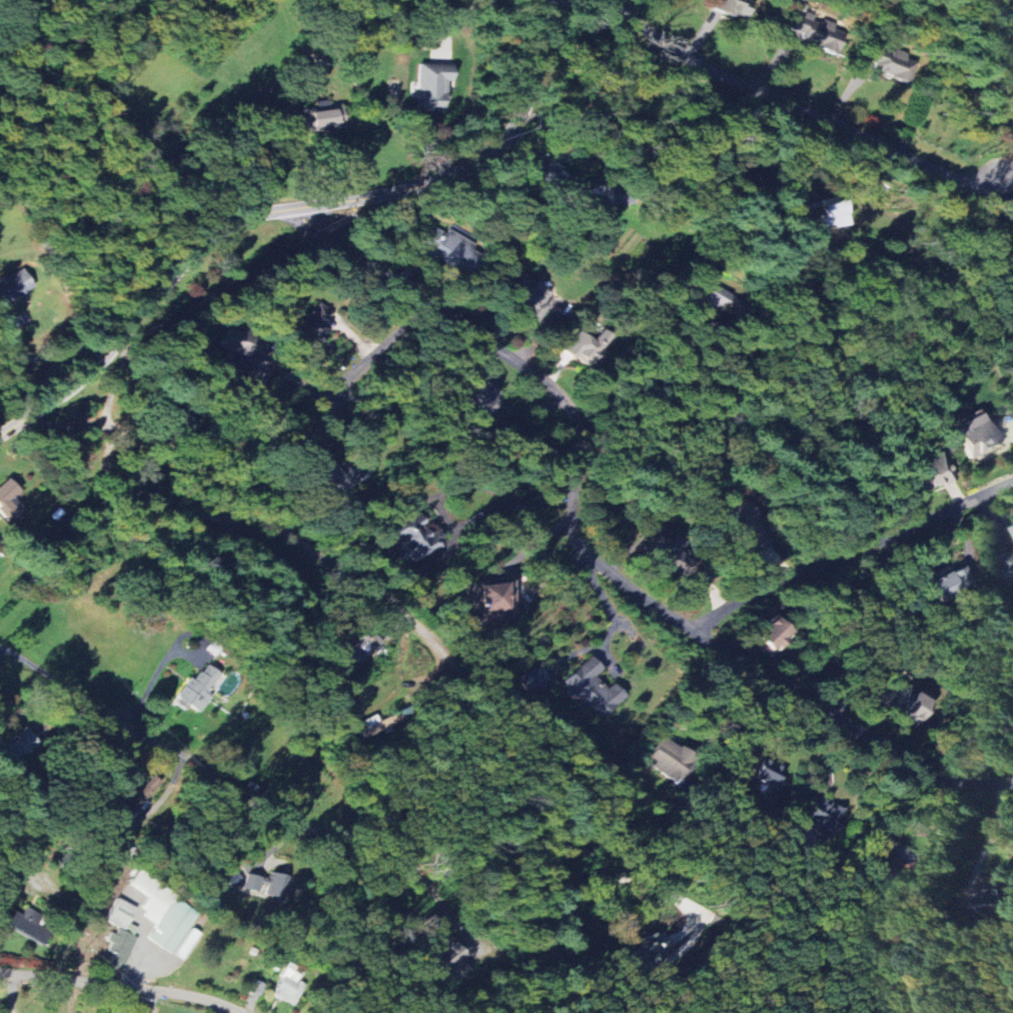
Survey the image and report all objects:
road: (546, 6)
building: (736, 8)
road: (401, 29)
building: (821, 36)
building: (891, 62)
road: (792, 105)
building: (323, 117)
building: (551, 175)
road: (640, 183)
road: (553, 198)
road: (292, 208)
road: (299, 212)
building: (833, 213)
road: (310, 222)
building: (450, 250)
building: (15, 285)
building: (530, 294)
building: (312, 329)
building: (588, 347)
road: (381, 348)
building: (244, 357)
building: (479, 398)
road: (645, 399)
road: (101, 413)
building: (979, 436)
building: (933, 475)
building: (333, 477)
building: (9, 500)
building: (417, 538)
road: (534, 540)
road: (850, 551)
building: (670, 559)
road: (598, 562)
building: (1009, 566)
building: (947, 581)
building: (493, 602)
road: (606, 606)
road: (417, 623)
building: (772, 637)
building: (366, 647)
road: (168, 657)
building: (533, 681)
building: (593, 689)
building: (198, 690)
road: (714, 700)
building: (910, 705)
road: (145, 734)
building: (20, 747)
building: (667, 759)
building: (768, 774)
building: (133, 801)
road: (903, 806)
building: (821, 817)
road: (389, 839)
building: (893, 871)
building: (234, 880)
building: (272, 882)
building: (164, 912)
road: (67, 915)
building: (122, 916)
building: (29, 923)
building: (576, 932)
building: (668, 944)
building: (120, 947)
building: (456, 958)
road: (123, 984)
building: (289, 986)
road: (153, 1000)

